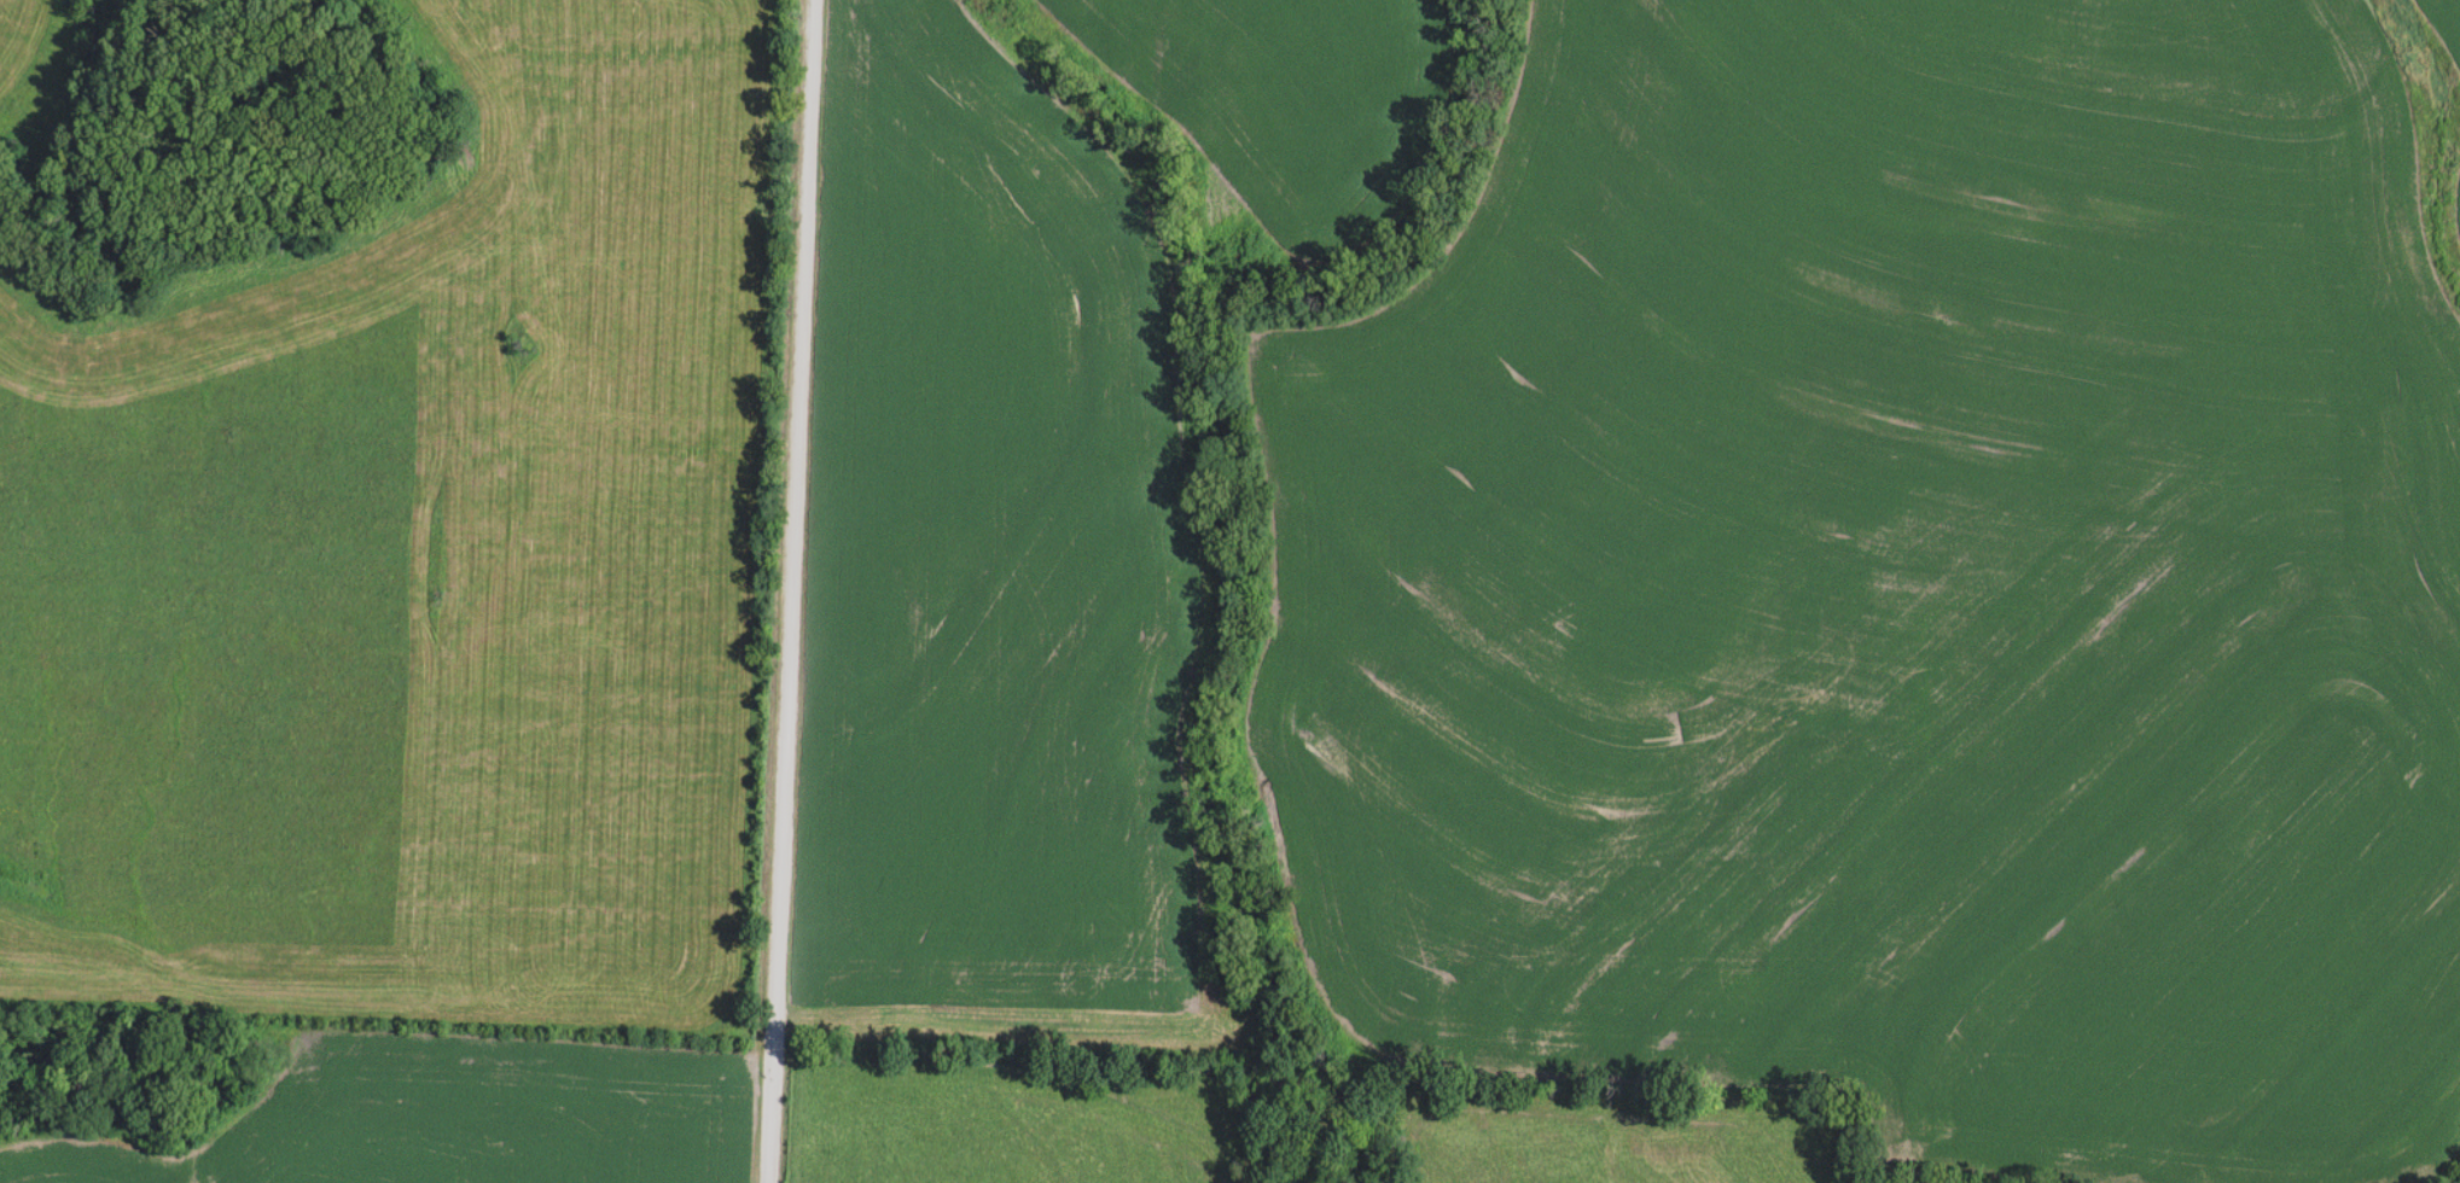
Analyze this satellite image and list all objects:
road: (785, 591)

